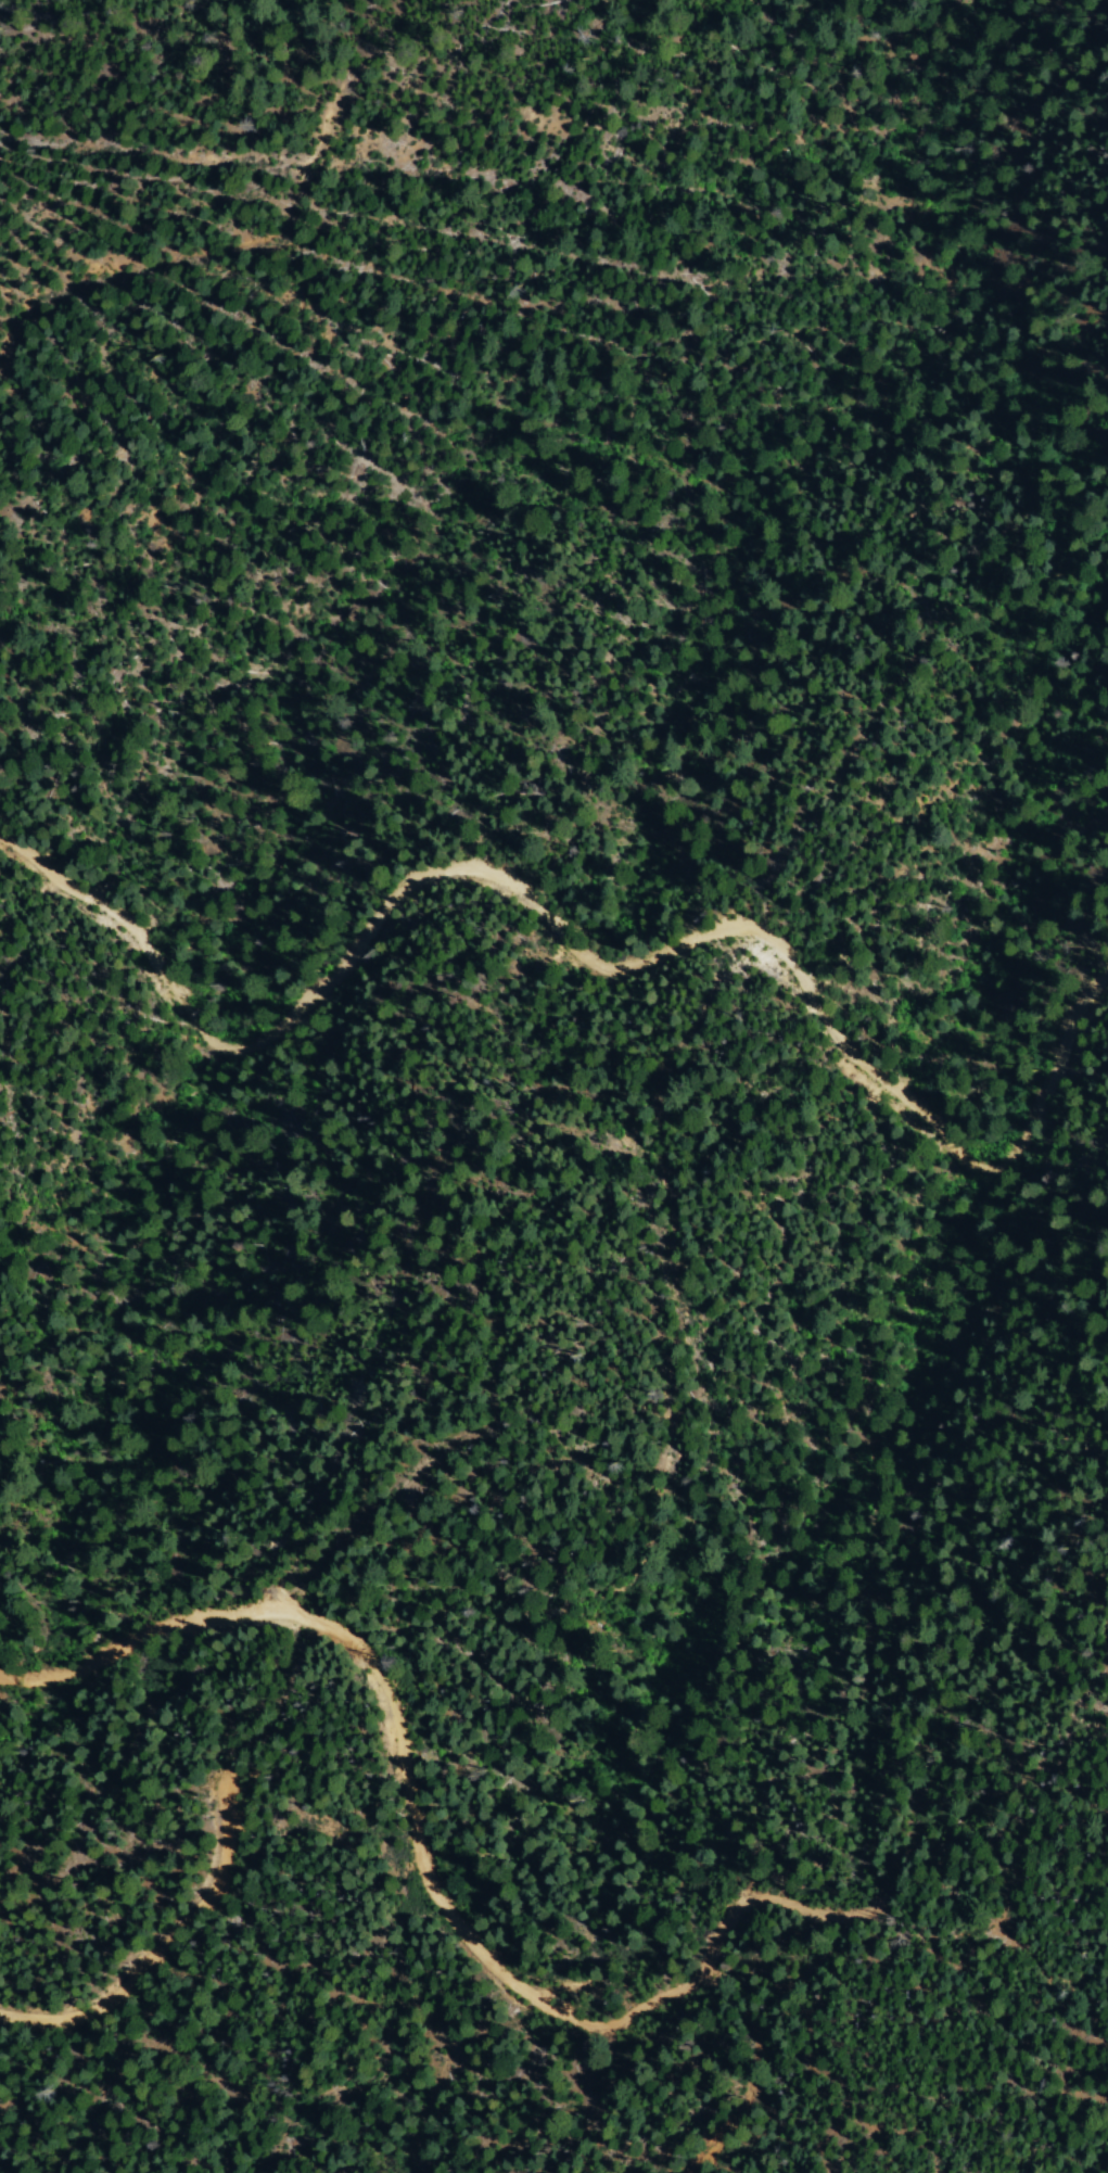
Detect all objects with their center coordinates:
road: (562, 986)
road: (624, 1991)

